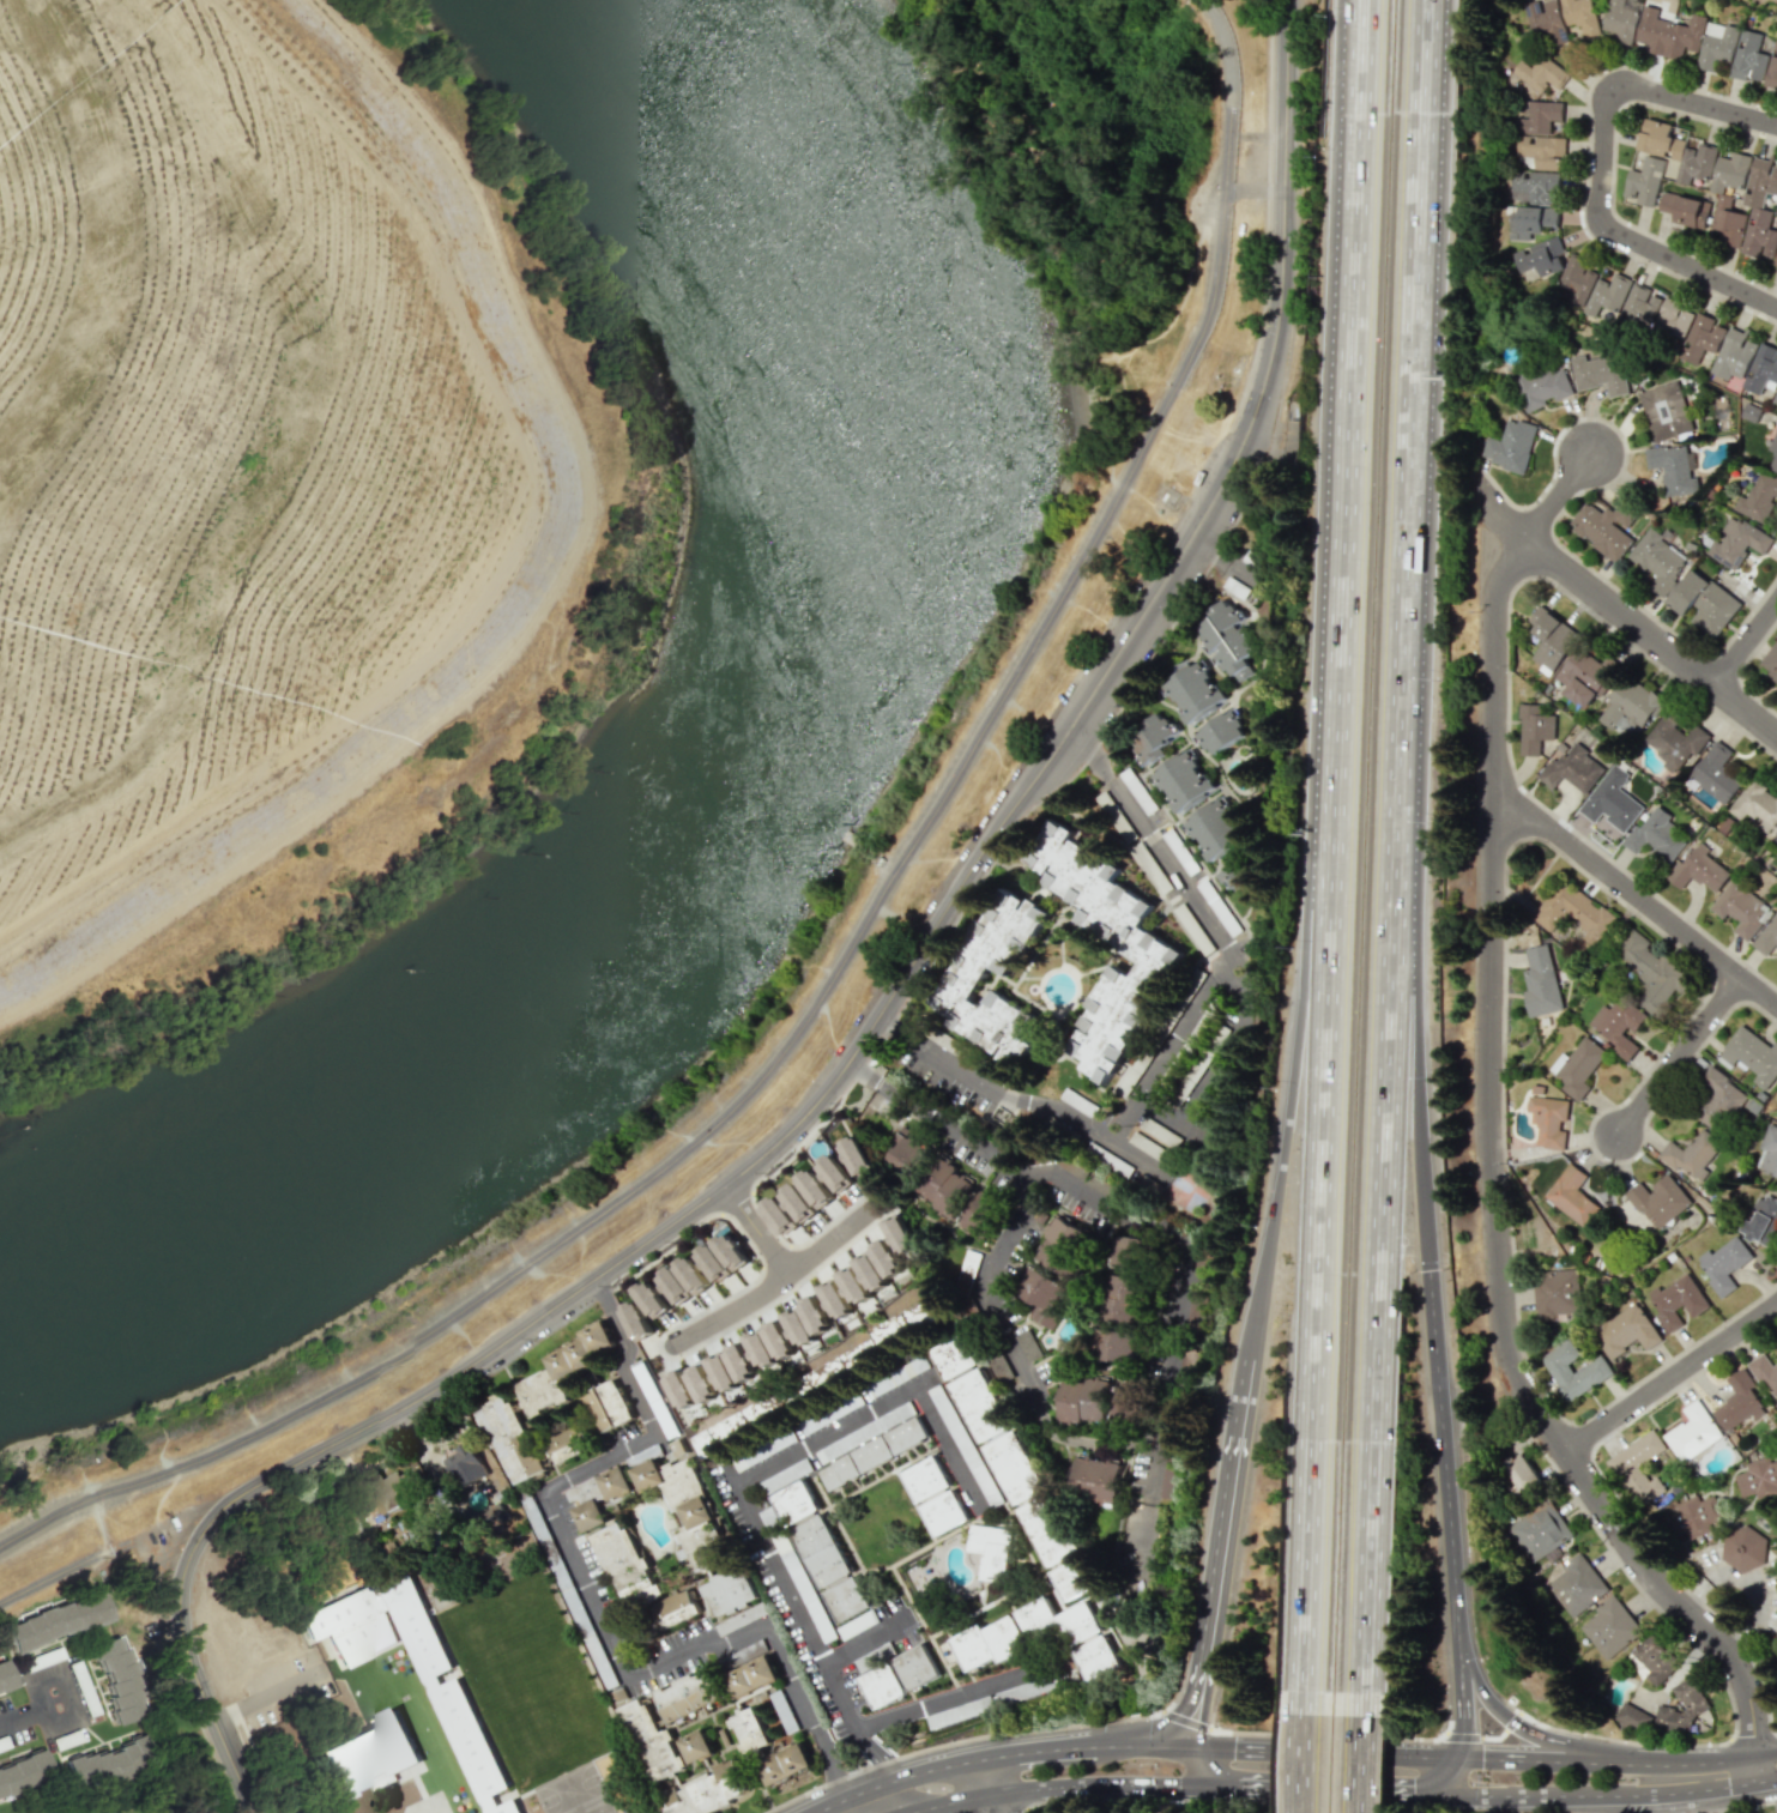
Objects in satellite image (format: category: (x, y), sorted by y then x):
road: (1426, 16)
road: (1428, 16)
building: (1578, 17)
building: (1543, 20)
building: (1619, 22)
building: (1667, 34)
building: (1716, 44)
building: (1748, 58)
building: (1772, 71)
building: (1540, 73)
road: (1281, 95)
building: (1539, 135)
building: (1676, 151)
road: (1600, 162)
building: (1643, 181)
building: (1533, 187)
road: (1253, 191)
building: (1686, 210)
building: (1776, 212)
building: (1528, 220)
building: (1760, 234)
building: (1537, 256)
building: (1776, 262)
building: (1574, 282)
building: (1607, 294)
building: (1638, 308)
building: (1669, 324)
building: (1700, 338)
building: (1734, 352)
building: (1761, 368)
building: (1601, 373)
building: (1541, 385)
road: (1355, 398)
building: (1776, 398)
road: (1407, 410)
building: (1667, 410)
building: (1193, 428)
building: (1510, 446)
building: (1773, 452)
building: (1672, 469)
building: (1758, 497)
road: (1560, 498)
building: (1603, 527)
building: (1737, 542)
building: (1658, 560)
road: (532, 591)
building: (1705, 603)
building: (1551, 639)
building: (1228, 640)
road: (1746, 646)
building: (1771, 664)
building: (1584, 677)
building: (1193, 693)
building: (1630, 707)
building: (1534, 729)
building: (1221, 733)
building: (1149, 738)
building: (1675, 741)
building: (1572, 769)
building: (1715, 774)
building: (1181, 781)
building: (1612, 800)
building: (1758, 806)
road: (1489, 822)
building: (1214, 830)
building: (1656, 835)
road: (1153, 838)
building: (1776, 840)
river: (745, 844)
building: (1699, 870)
building: (1232, 872)
road: (1634, 894)
building: (1741, 908)
building: (1574, 914)
building: (1767, 936)
building: (1134, 938)
road: (851, 953)
building: (1652, 972)
building: (1541, 981)
building: (961, 983)
building: (1619, 1026)
road: (863, 1043)
road: (1169, 1048)
building: (1751, 1056)
road: (1681, 1057)
road: (1211, 1063)
building: (1577, 1066)
road: (1293, 1069)
building: (1717, 1099)
road: (1020, 1104)
building: (1548, 1120)
building: (1769, 1150)
building: (857, 1154)
building: (907, 1155)
building: (1692, 1155)
building: (836, 1173)
building: (943, 1186)
building: (816, 1187)
building: (1571, 1195)
building: (1658, 1201)
building: (799, 1203)
building: (980, 1211)
road: (1420, 1211)
building: (780, 1215)
building: (1763, 1220)
road: (760, 1228)
building: (900, 1234)
road: (1158, 1234)
road: (1373, 1243)
road: (1324, 1244)
building: (1060, 1245)
building: (731, 1251)
building: (1125, 1251)
building: (714, 1262)
building: (1723, 1263)
building: (883, 1270)
building: (693, 1274)
road: (775, 1279)
building: (675, 1285)
building: (857, 1291)
building: (1555, 1293)
building: (1041, 1294)
building: (1122, 1298)
building: (652, 1299)
building: (836, 1300)
building: (1676, 1300)
building: (816, 1316)
building: (637, 1321)
building: (907, 1322)
road: (1001, 1325)
building: (799, 1328)
building: (1625, 1330)
building: (780, 1340)
building: (1114, 1346)
building: (761, 1349)
building: (951, 1356)
building: (1595, 1367)
building: (564, 1368)
building: (723, 1372)
building: (833, 1372)
building: (1765, 1373)
road: (1673, 1379)
building: (702, 1383)
building: (681, 1389)
building: (1083, 1401)
building: (1740, 1401)
building: (608, 1406)
building: (979, 1406)
building: (738, 1425)
building: (1693, 1432)
building: (509, 1438)
building: (569, 1443)
building: (871, 1454)
building: (465, 1464)
building: (1013, 1467)
building: (1638, 1468)
building: (1521, 1471)
building: (925, 1479)
building: (1095, 1479)
building: (1758, 1479)
building: (616, 1482)
building: (387, 1494)
road: (739, 1495)
building: (793, 1503)
building: (590, 1504)
building: (688, 1509)
building: (943, 1512)
building: (491, 1517)
building: (1694, 1517)
road: (180, 1519)
road: (101, 1524)
building: (1046, 1530)
building: (1540, 1531)
road: (1219, 1543)
parking lot: (161, 1548)
building: (1743, 1548)
building: (989, 1549)
building: (821, 1551)
road: (92, 1558)
building: (624, 1564)
building: (1074, 1578)
road: (1753, 1579)
building: (1577, 1584)
building: (729, 1591)
building: (846, 1597)
road: (1682, 1607)
building: (675, 1608)
road: (594, 1609)
building: (56, 1620)
building: (1058, 1621)
building: (1610, 1626)
road: (866, 1642)
building: (989, 1643)
building: (1096, 1657)
building: (1652, 1660)
building: (917, 1667)
building: (4, 1675)
building: (751, 1676)
building: (116, 1679)
building: (882, 1686)
road: (1459, 1690)
building: (688, 1694)
road: (944, 1697)
building: (1686, 1708)
building: (784, 1711)
road: (1517, 1717)
building: (1634, 1717)
road: (25, 1723)
building: (460, 1729)
building: (749, 1729)
road: (226, 1738)
building: (653, 1741)
road: (1140, 1745)
road: (1324, 1745)
building: (697, 1746)
road: (1034, 1752)
road: (1305, 1752)
road: (1536, 1752)
building: (368, 1754)
road: (1355, 1754)
road: (1686, 1757)
building: (103, 1764)
building: (786, 1764)
road: (1198, 1764)
road: (1461, 1766)
road: (1766, 1770)
building: (23, 1776)
road: (893, 1778)
road: (1095, 1782)
road: (1735, 1783)
road: (980, 1785)
road: (1336, 1785)
road: (1586, 1789)
building: (707, 1790)
road: (1712, 1800)
road: (945, 1801)
road: (906, 1811)

